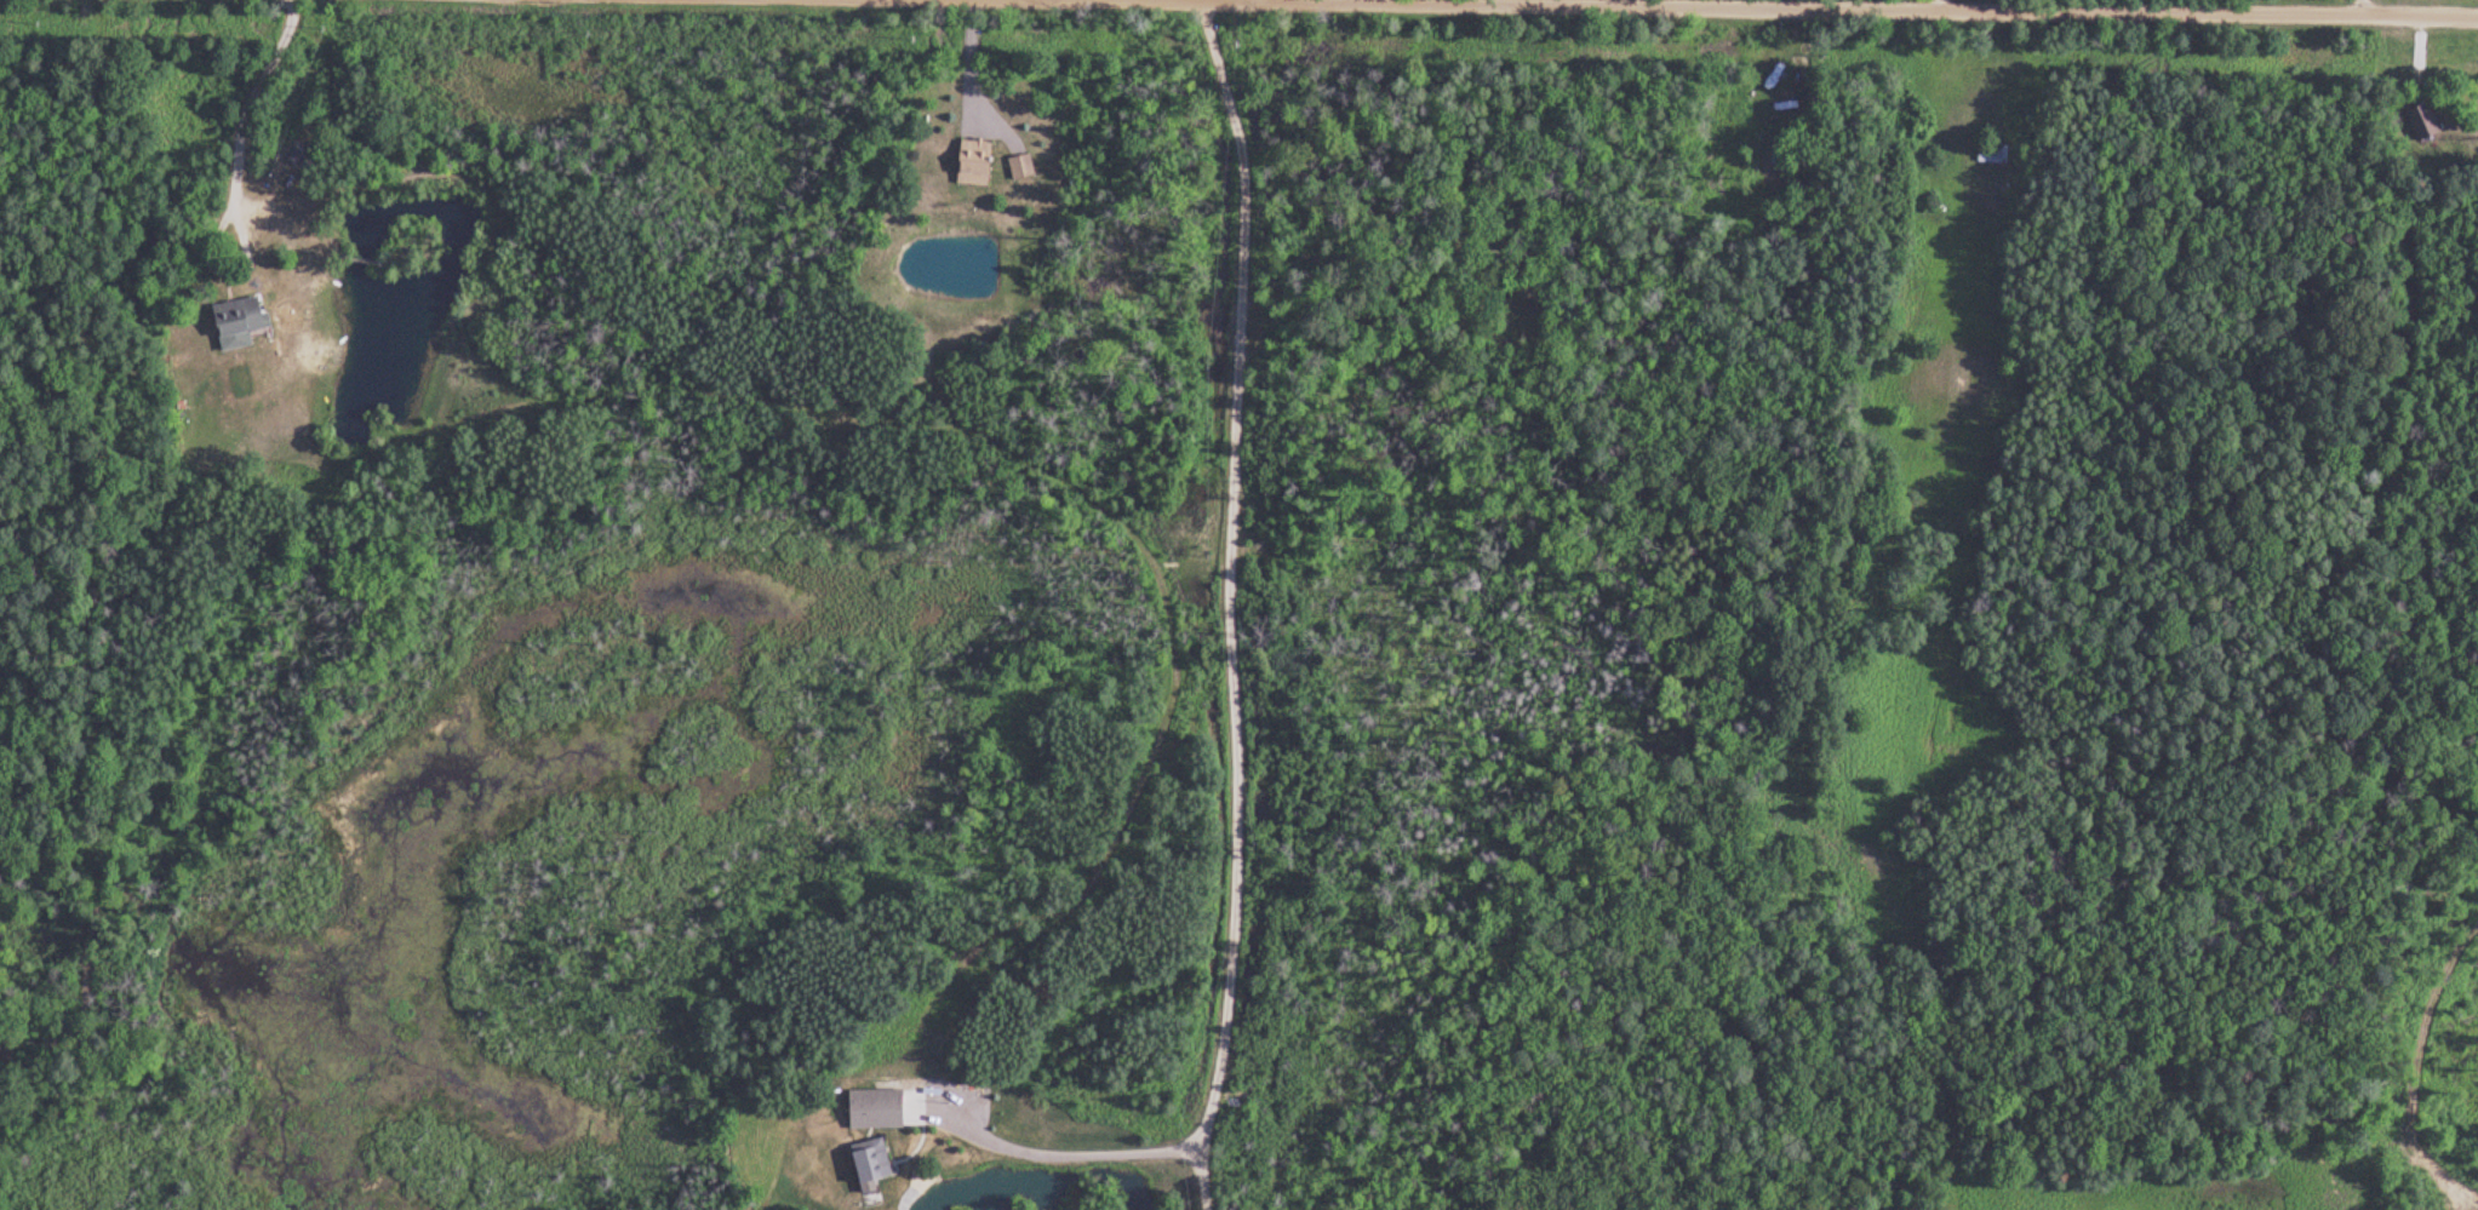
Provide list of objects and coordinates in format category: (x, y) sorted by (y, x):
road: (1261, 4)
road: (1573, 13)
building: (1778, 87)
road: (250, 102)
building: (2427, 124)
building: (299, 154)
building: (1997, 154)
building: (982, 164)
building: (1026, 167)
road: (228, 271)
building: (245, 321)
road: (1230, 607)
building: (882, 1108)
road: (1074, 1152)
building: (880, 1162)

